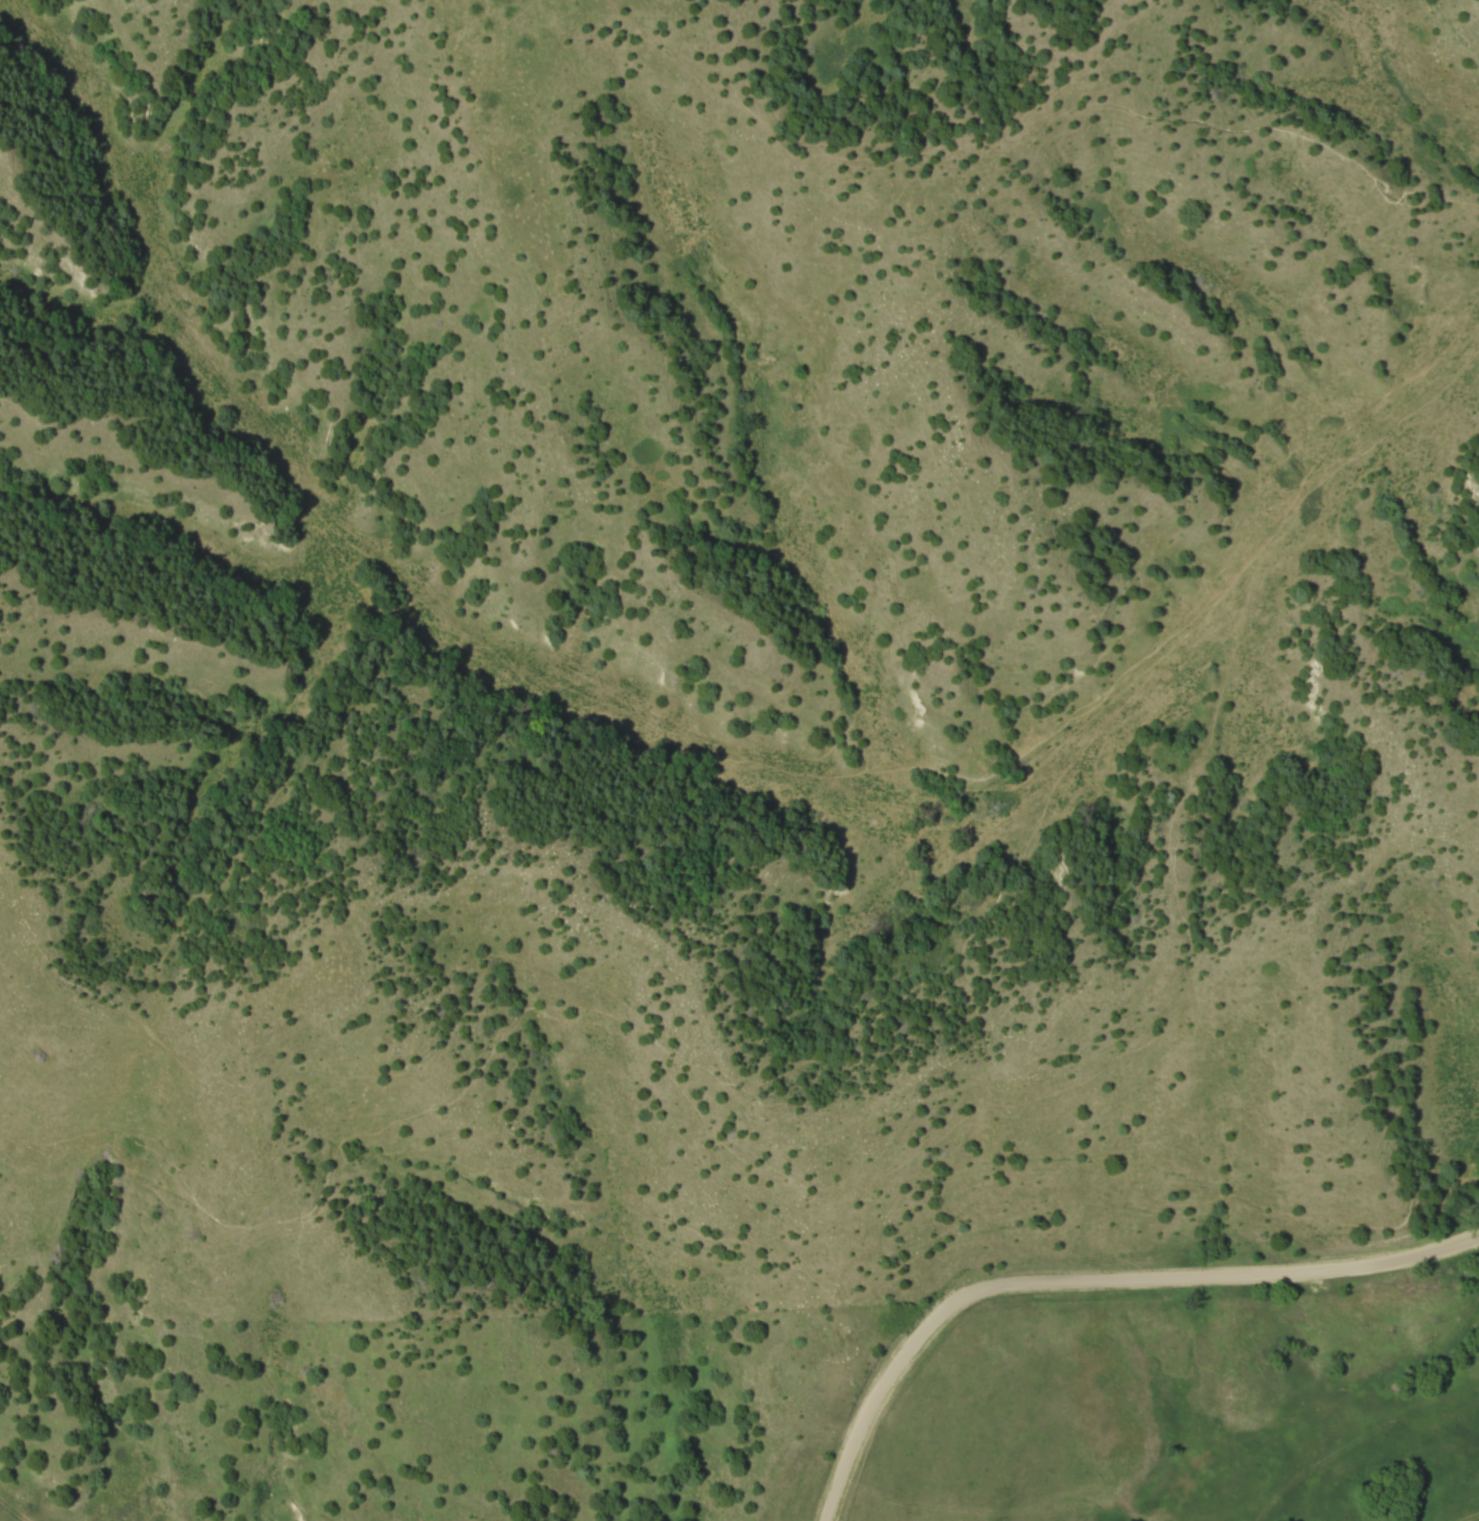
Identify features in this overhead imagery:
road: (1092, 1280)

